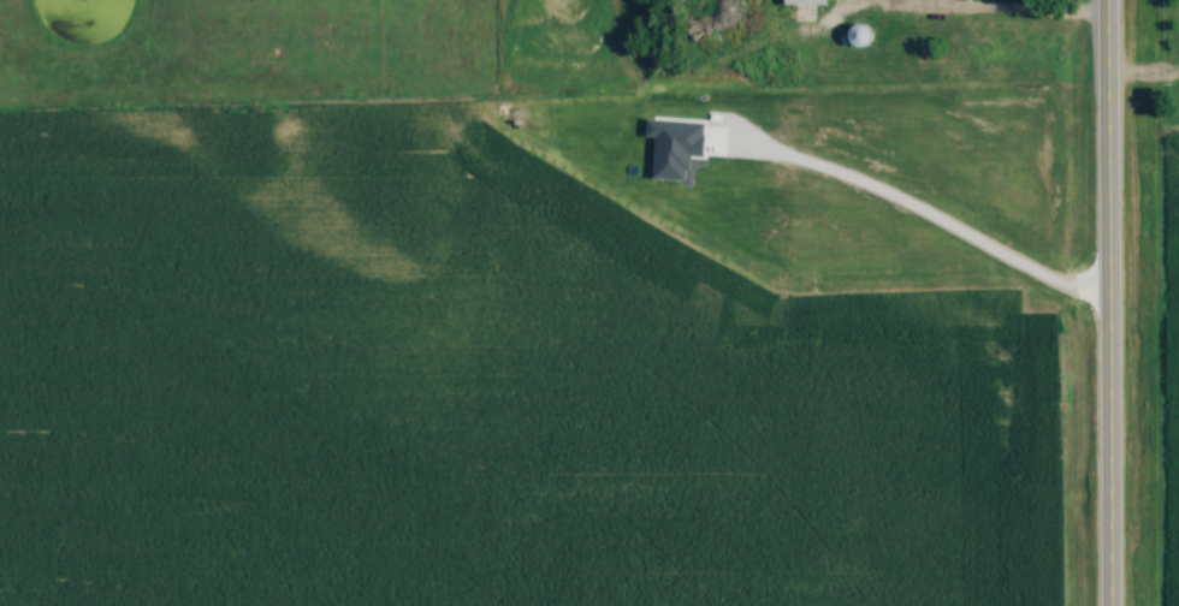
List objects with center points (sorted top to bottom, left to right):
building: (806, 2)
road: (965, 17)
building: (860, 36)
road: (1107, 302)

